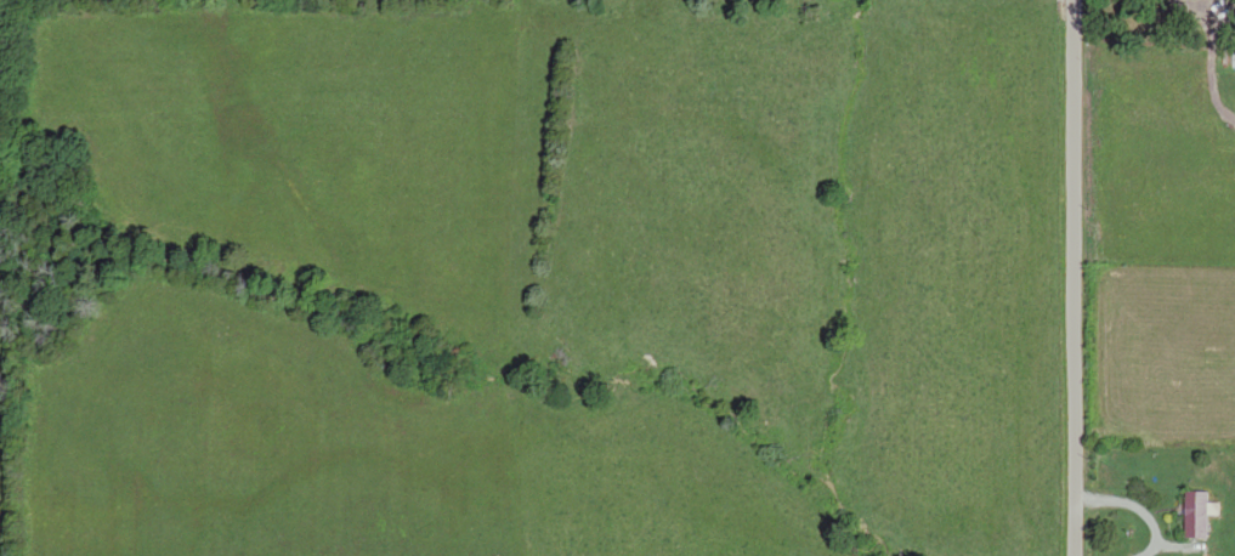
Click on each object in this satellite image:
road: (1056, 278)
building: (1200, 515)

